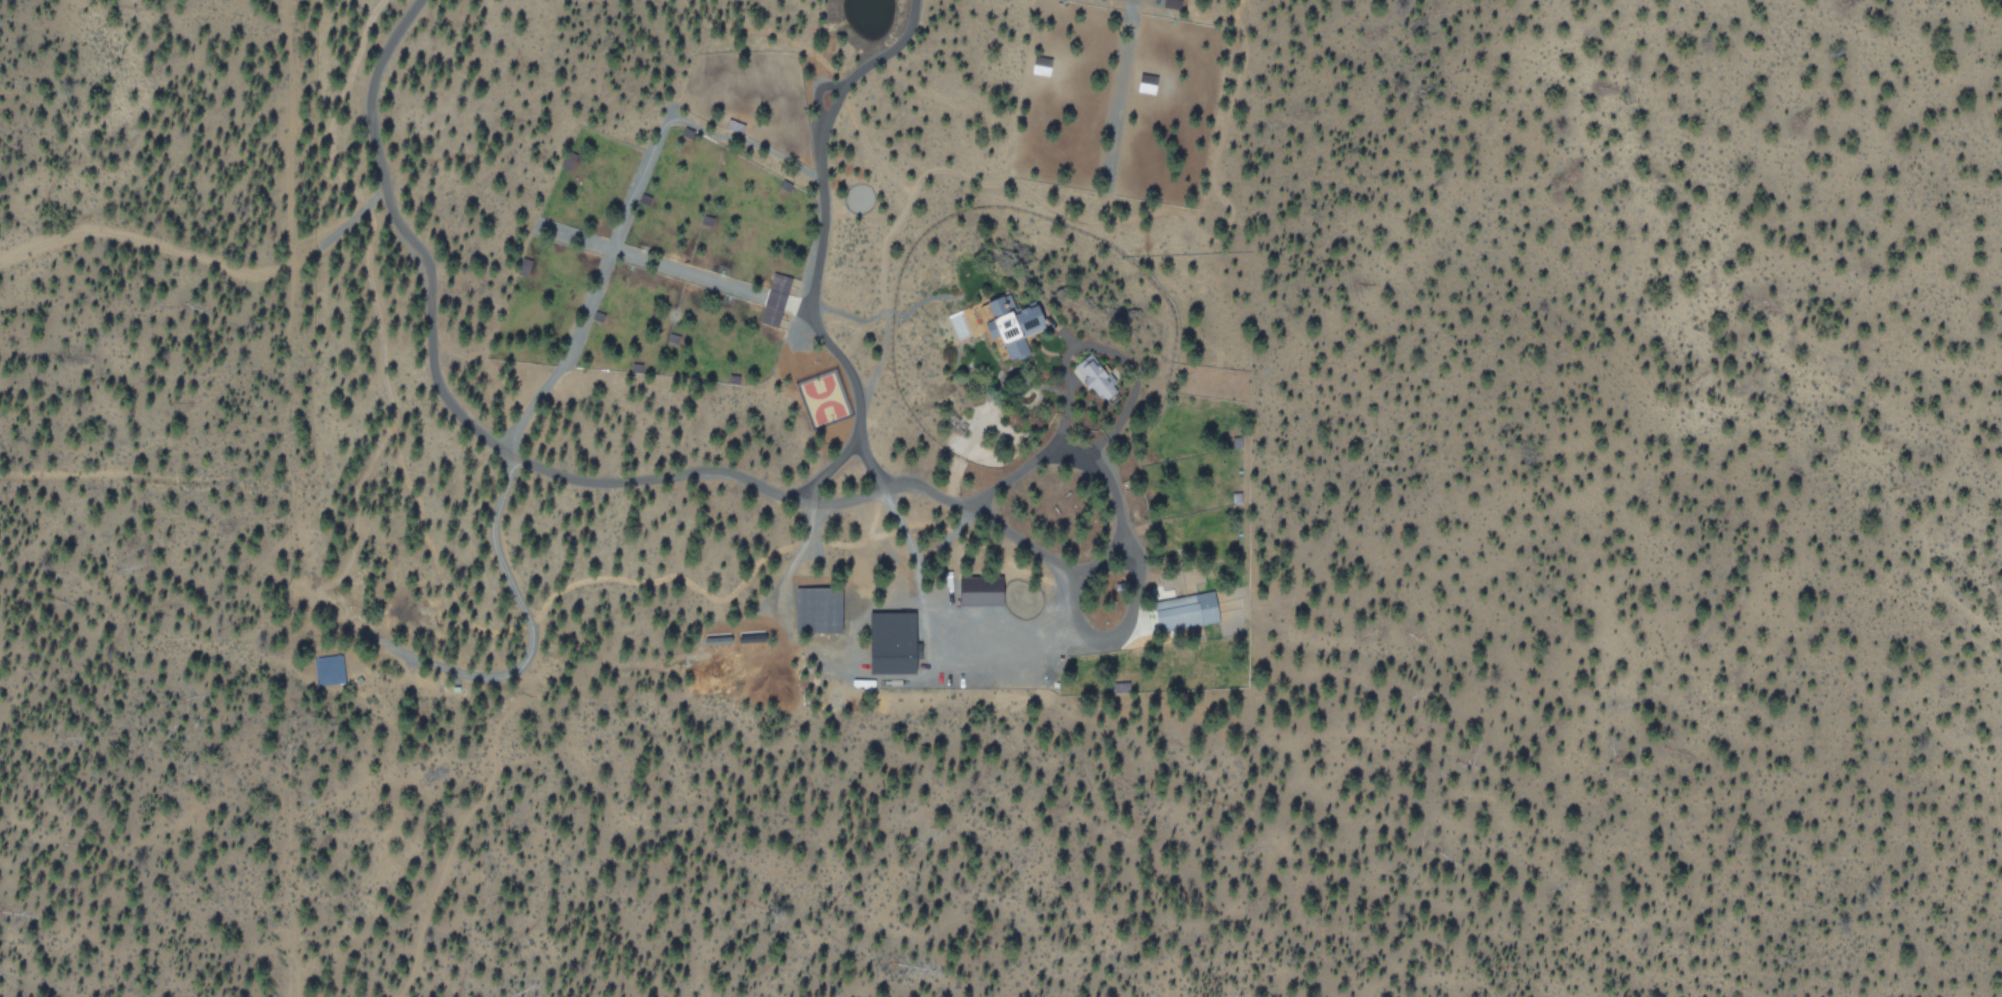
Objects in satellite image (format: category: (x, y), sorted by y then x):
building: (1040, 64)
building: (1147, 82)
road: (184, 257)
building: (774, 299)
building: (1017, 324)
building: (1098, 376)
building: (982, 590)
building: (818, 609)
building: (1186, 610)
building: (895, 642)

